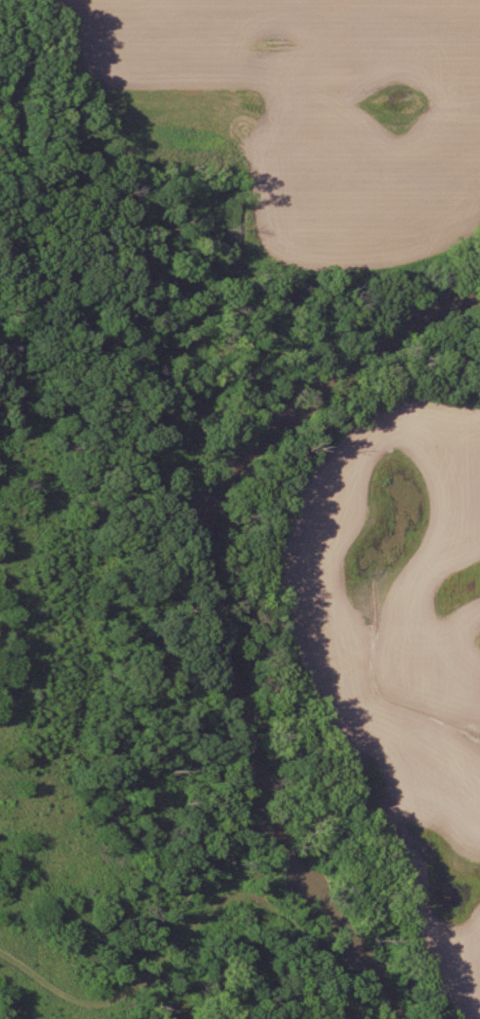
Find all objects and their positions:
river: (225, 594)

